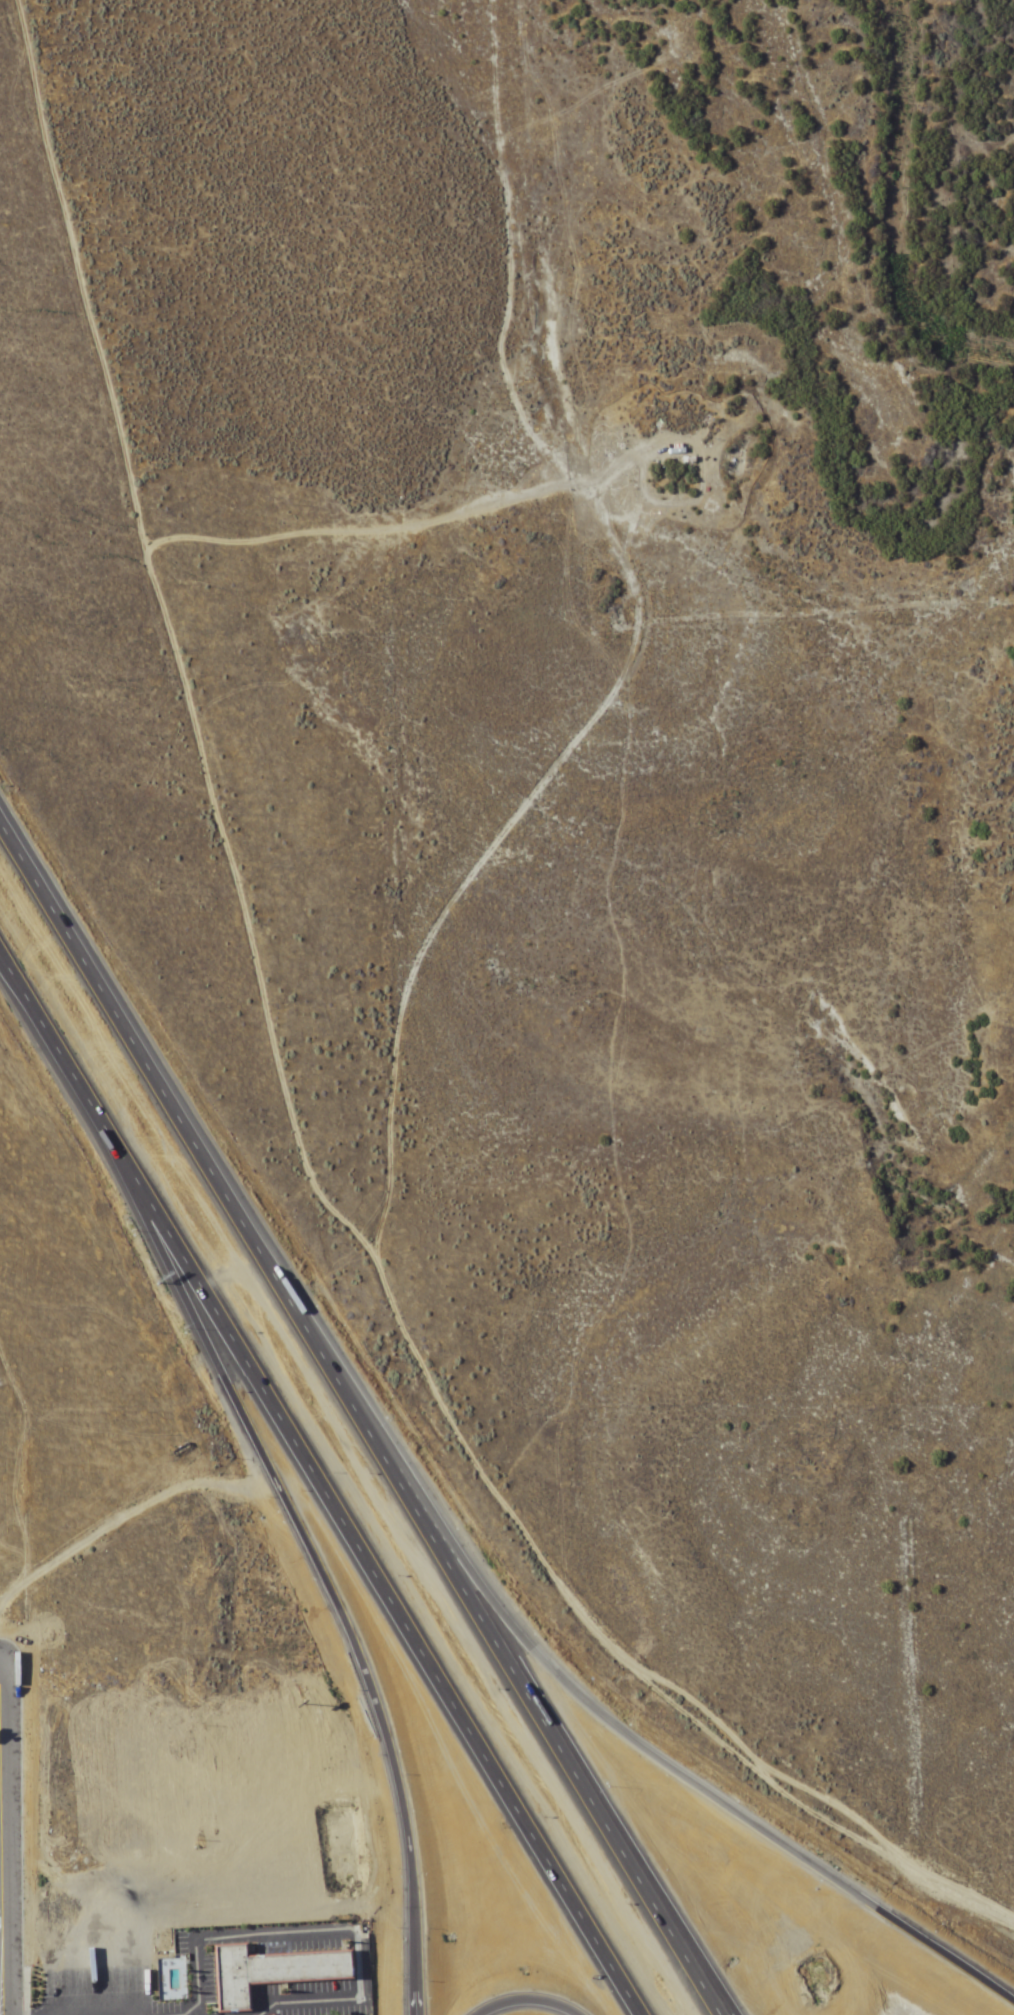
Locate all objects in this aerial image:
road: (287, 1101)
road: (141, 1184)
road: (365, 1408)
road: (325, 1476)
road: (334, 1602)
road: (4, 1666)
road: (677, 1772)
road: (7, 1840)
road: (327, 1930)
building: (277, 1971)
road: (525, 2001)

